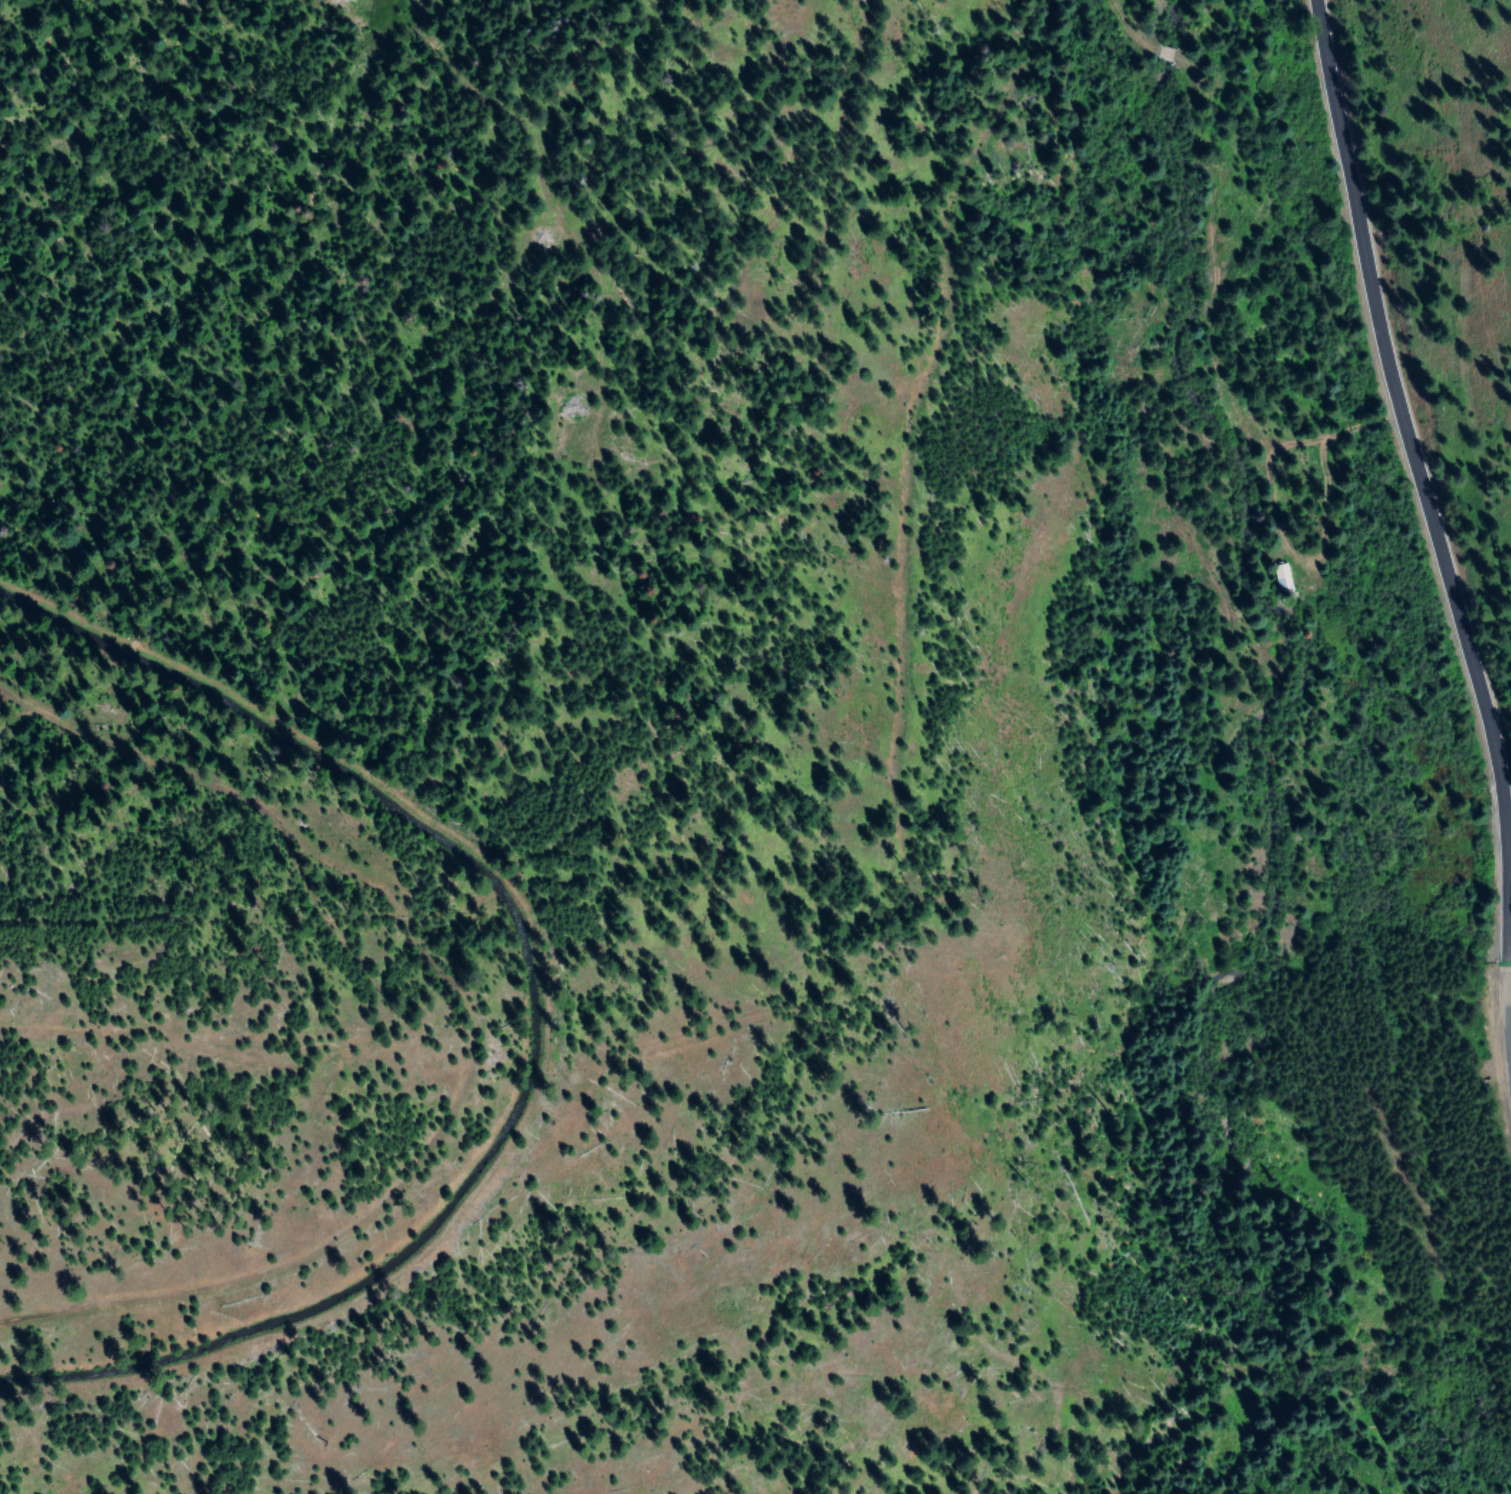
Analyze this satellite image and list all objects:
road: (1340, 195)
building: (1284, 573)
road: (1469, 779)
road: (451, 1041)

